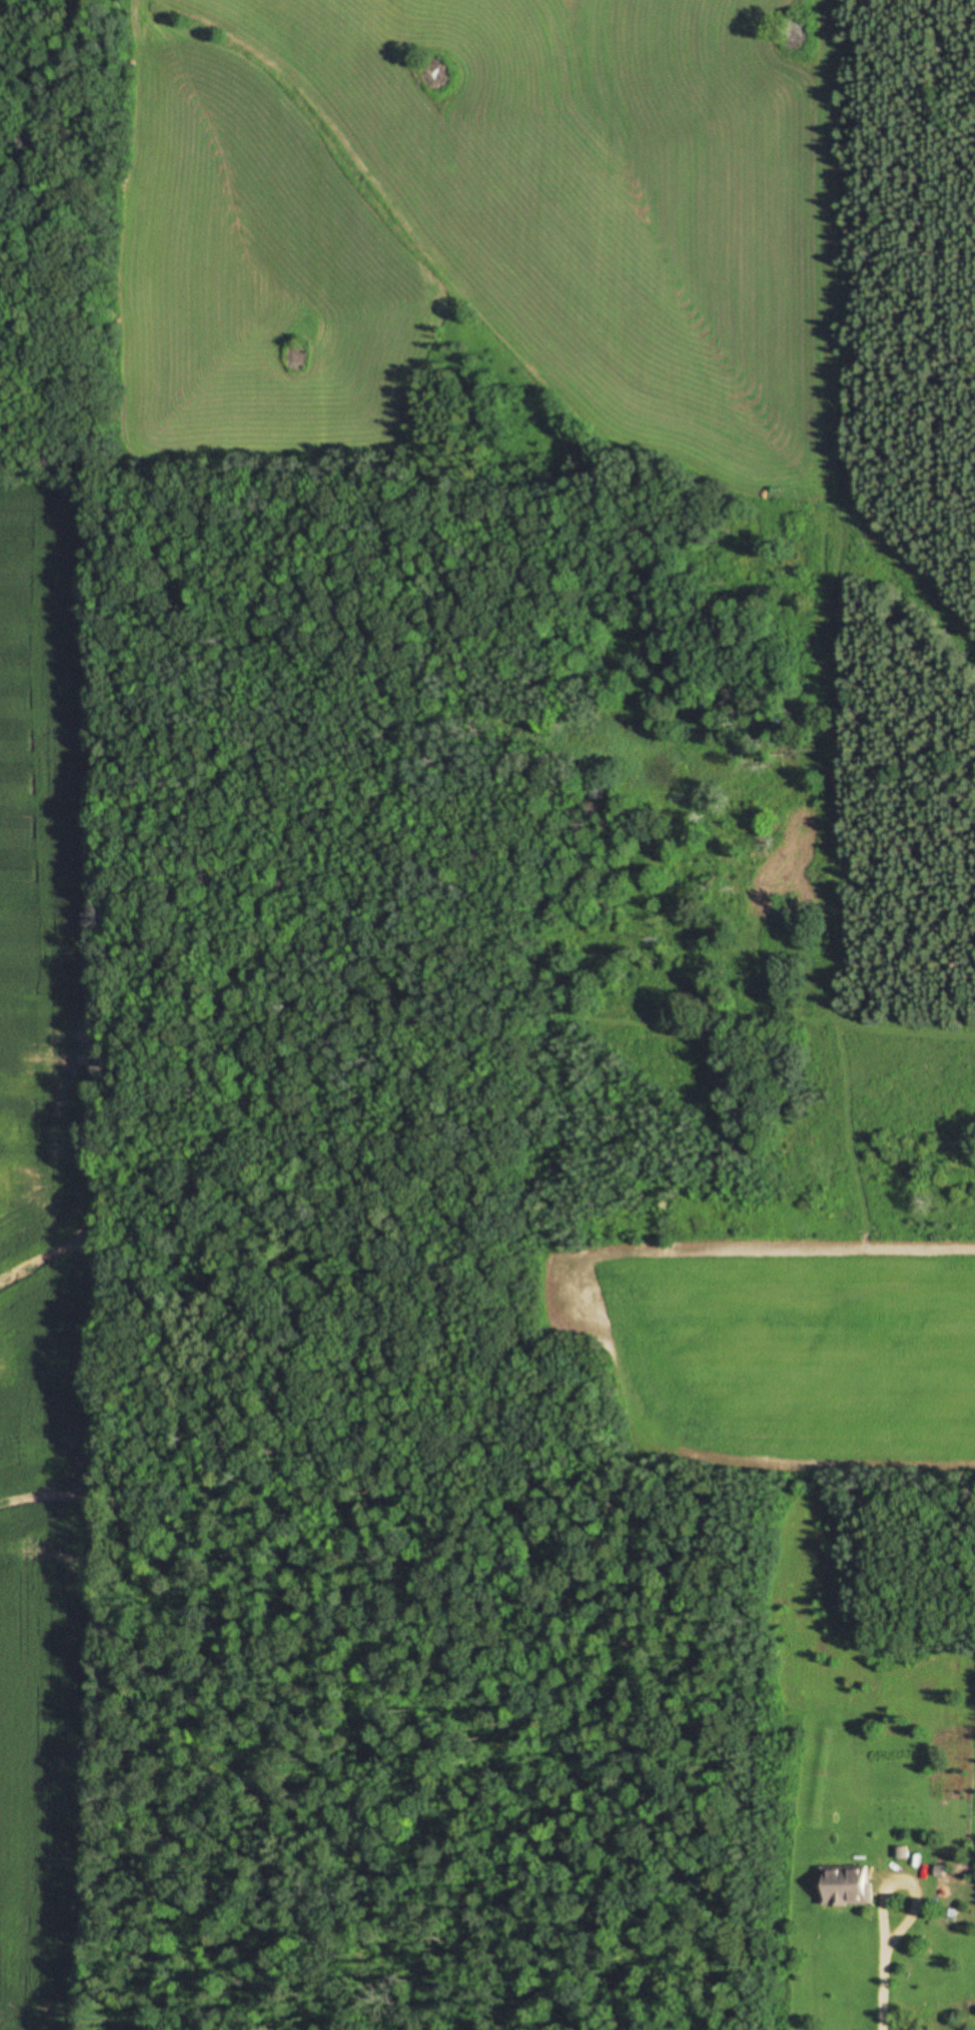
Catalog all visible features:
road: (896, 1877)
building: (843, 1886)
road: (874, 1989)

